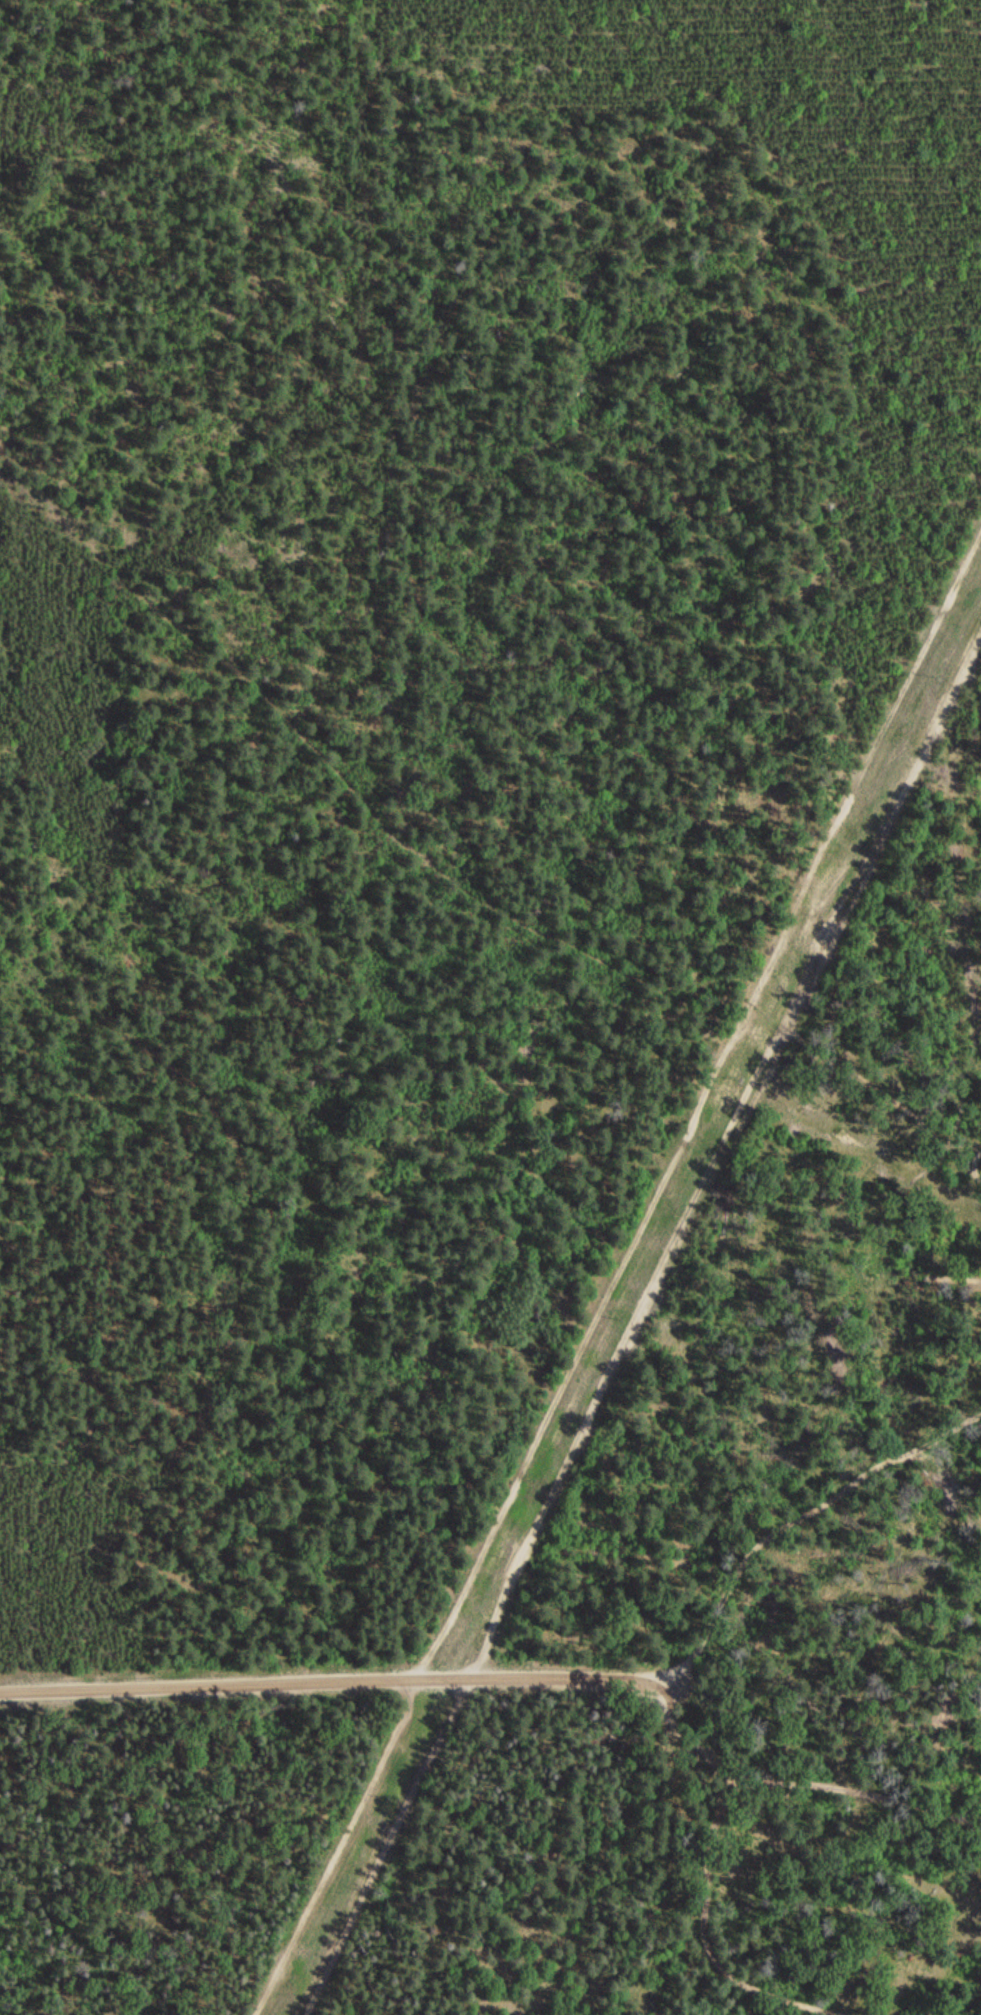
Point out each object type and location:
road: (718, 1135)
road: (808, 1511)
road: (337, 1676)
road: (833, 1786)
road: (374, 1845)
road: (698, 1886)

